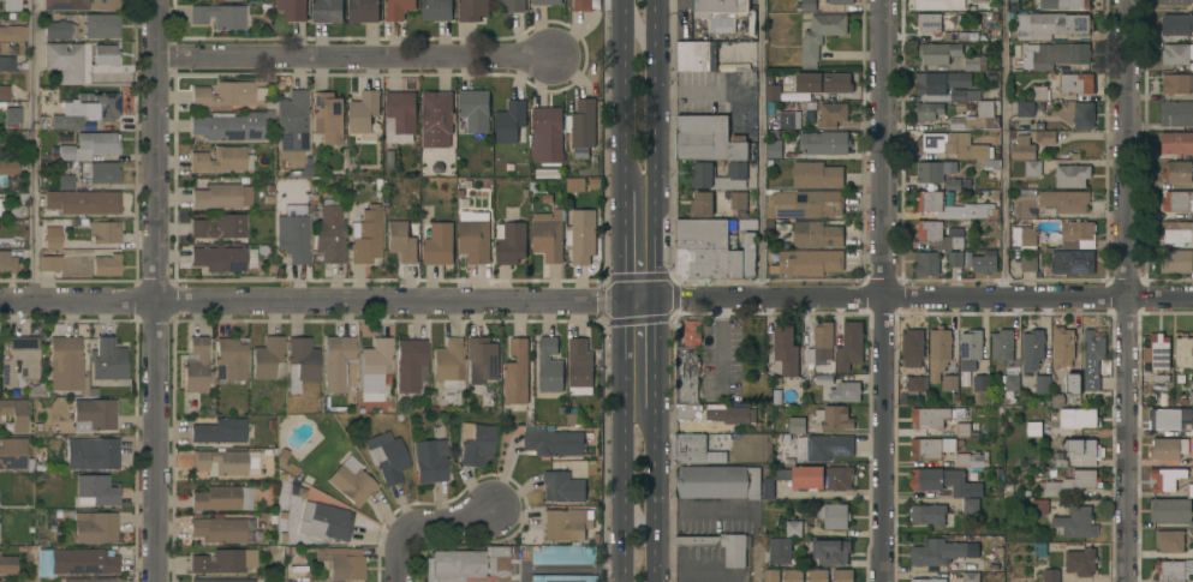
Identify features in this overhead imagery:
building: (545, 1)
building: (841, 1)
building: (979, 1)
building: (1175, 1)
building: (78, 4)
building: (938, 4)
building: (1074, 4)
building: (11, 5)
building: (514, 5)
building: (585, 5)
building: (806, 5)
building: (1046, 5)
building: (292, 8)
building: (398, 8)
building: (720, 8)
building: (436, 10)
building: (472, 10)
building: (327, 11)
building: (363, 11)
building: (219, 16)
building: (929, 22)
building: (1176, 23)
building: (1051, 24)
building: (721, 25)
building: (101, 26)
building: (59, 30)
building: (13, 34)
building: (821, 35)
building: (956, 35)
building: (938, 52)
building: (1058, 53)
building: (1176, 53)
building: (106, 54)
building: (697, 55)
road: (352, 59)
building: (64, 61)
building: (976, 62)
building: (6, 64)
road: (626, 79)
building: (1075, 83)
building: (1176, 83)
building: (821, 85)
road: (702, 91)
building: (4, 92)
building: (1039, 92)
building: (222, 95)
building: (956, 97)
building: (100, 104)
building: (1025, 108)
building: (475, 109)
building: (929, 109)
building: (364, 110)
building: (437, 112)
building: (1176, 113)
building: (831, 114)
building: (1084, 114)
building: (12, 115)
building: (400, 115)
building: (328, 118)
building: (789, 119)
building: (66, 121)
building: (509, 121)
building: (293, 122)
building: (584, 122)
building: (228, 126)
building: (1042, 132)
building: (547, 134)
building: (708, 138)
building: (824, 142)
building: (1176, 142)
building: (88, 146)
road: (30, 148)
road: (657, 148)
building: (773, 148)
building: (955, 148)
building: (1022, 148)
road: (758, 149)
road: (1002, 149)
building: (221, 158)
building: (956, 166)
building: (1032, 167)
building: (6, 170)
building: (700, 172)
building: (929, 172)
building: (1179, 172)
building: (100, 173)
building: (817, 175)
building: (1072, 175)
building: (65, 182)
building: (953, 184)
building: (219, 196)
building: (739, 199)
building: (1064, 200)
building: (1176, 200)
building: (82, 202)
building: (702, 203)
building: (804, 204)
building: (929, 205)
building: (1025, 206)
building: (745, 223)
building: (219, 227)
road: (625, 228)
building: (103, 232)
building: (329, 232)
building: (1179, 233)
building: (548, 234)
building: (816, 234)
building: (937, 234)
building: (1075, 234)
building: (53, 235)
building: (365, 235)
building: (475, 235)
building: (581, 235)
building: (1024, 235)
building: (293, 236)
building: (401, 241)
building: (437, 242)
building: (512, 242)
building: (712, 250)
building: (219, 258)
building: (955, 258)
building: (1176, 260)
building: (817, 262)
building: (984, 262)
building: (1028, 262)
building: (1074, 262)
building: (7, 263)
building: (49, 263)
building: (927, 263)
building: (106, 265)
road: (154, 290)
road: (884, 290)
road: (1131, 290)
road: (596, 295)
traffic signals: (625, 296)
traffic signals: (656, 296)
building: (1002, 344)
building: (1062, 346)
building: (851, 347)
building: (913, 347)
building: (785, 348)
building: (970, 348)
building: (1032, 348)
building: (822, 349)
building: (938, 350)
building: (1159, 350)
building: (1183, 350)
building: (231, 358)
building: (482, 358)
building: (107, 359)
building: (267, 359)
building: (1092, 359)
building: (18, 361)
building: (300, 362)
building: (448, 362)
road: (656, 362)
building: (338, 364)
building: (410, 364)
building: (687, 364)
building: (65, 365)
building: (549, 365)
building: (196, 366)
building: (580, 366)
building: (374, 367)
building: (517, 372)
building: (825, 380)
building: (914, 382)
building: (949, 382)
building: (1007, 382)
building: (1043, 383)
building: (1073, 383)
building: (982, 384)
building: (36, 389)
building: (846, 391)
building: (777, 396)
building: (1191, 396)
building: (715, 412)
building: (14, 414)
building: (93, 414)
building: (935, 415)
building: (834, 416)
building: (1078, 416)
building: (1169, 418)
building: (797, 425)
building: (962, 428)
building: (1033, 428)
building: (1192, 430)
building: (219, 431)
road: (625, 439)
building: (553, 440)
building: (475, 443)
building: (824, 445)
building: (930, 446)
building: (688, 448)
building: (1168, 448)
building: (1082, 450)
building: (91, 454)
building: (13, 455)
building: (386, 456)
building: (716, 457)
building: (429, 460)
building: (972, 460)
building: (226, 462)
building: (782, 474)
building: (806, 476)
building: (840, 476)
building: (1165, 478)
building: (942, 480)
building: (351, 481)
building: (718, 481)
building: (1073, 481)
building: (562, 486)
building: (769, 488)
building: (1189, 488)
building: (95, 491)
building: (221, 498)
building: (970, 504)
road: (656, 505)
building: (1039, 505)
road: (700, 506)
building: (1171, 509)
building: (927, 512)
building: (834, 515)
building: (324, 521)
building: (1076, 522)
building: (563, 524)
building: (95, 527)
road: (424, 527)
building: (793, 528)
building: (219, 529)
building: (1170, 540)
building: (780, 550)
building: (830, 551)
building: (941, 551)
building: (561, 554)
building: (734, 556)
building: (1080, 560)
building: (76, 562)
building: (222, 562)
building: (341, 563)
building: (7, 564)
building: (469, 565)
road: (758, 565)
road: (29, 568)
road: (280, 569)
road: (697, 569)
building: (1174, 569)
road: (567, 570)
building: (771, 575)
building: (792, 575)
building: (817, 575)
building: (842, 575)
building: (1051, 575)
building: (971, 576)
building: (562, 578)
building: (222, 580)
building: (927, 580)
building: (89, 581)

